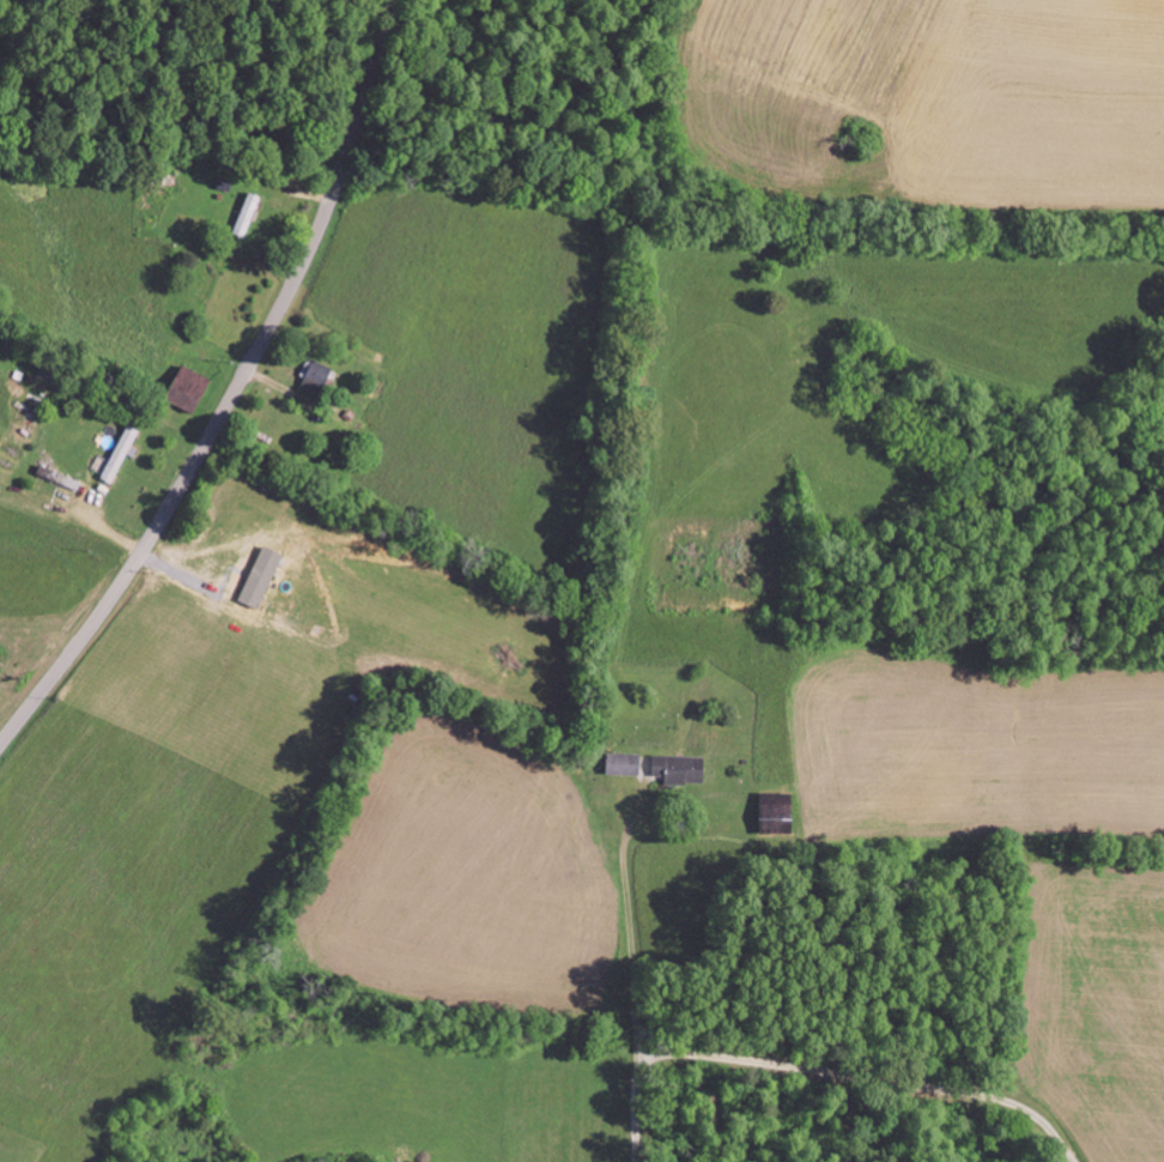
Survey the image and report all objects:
building: (192, 389)
road: (234, 393)
building: (629, 764)
building: (781, 807)
road: (632, 1100)

